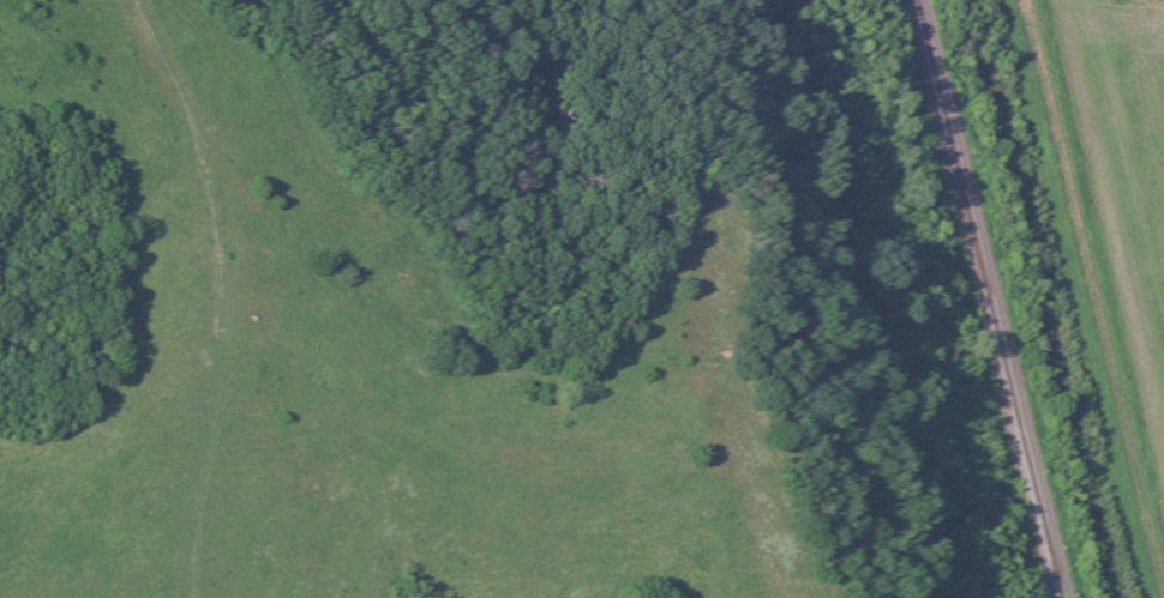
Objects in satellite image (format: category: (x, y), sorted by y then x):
railway: (1001, 298)
road: (445, 360)

